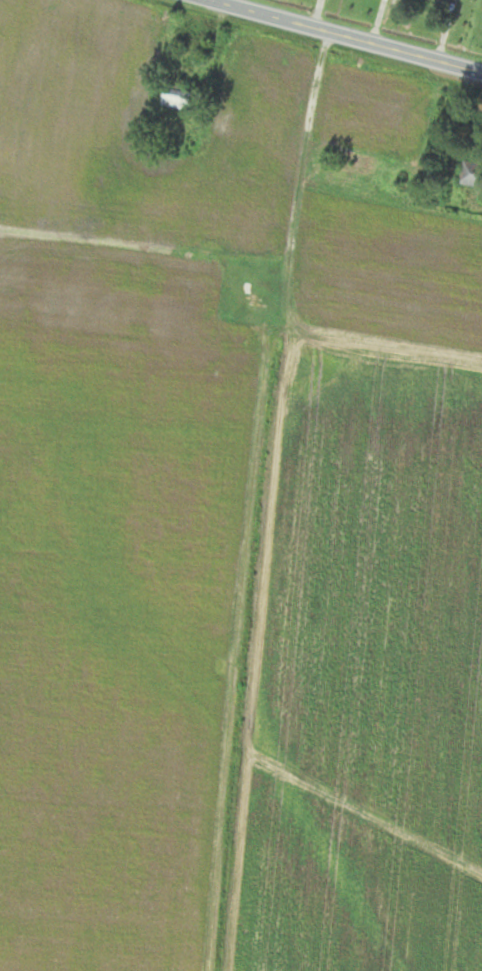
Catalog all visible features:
building: (450, 2)
road: (343, 35)
building: (177, 99)
building: (350, 158)
road: (254, 499)

